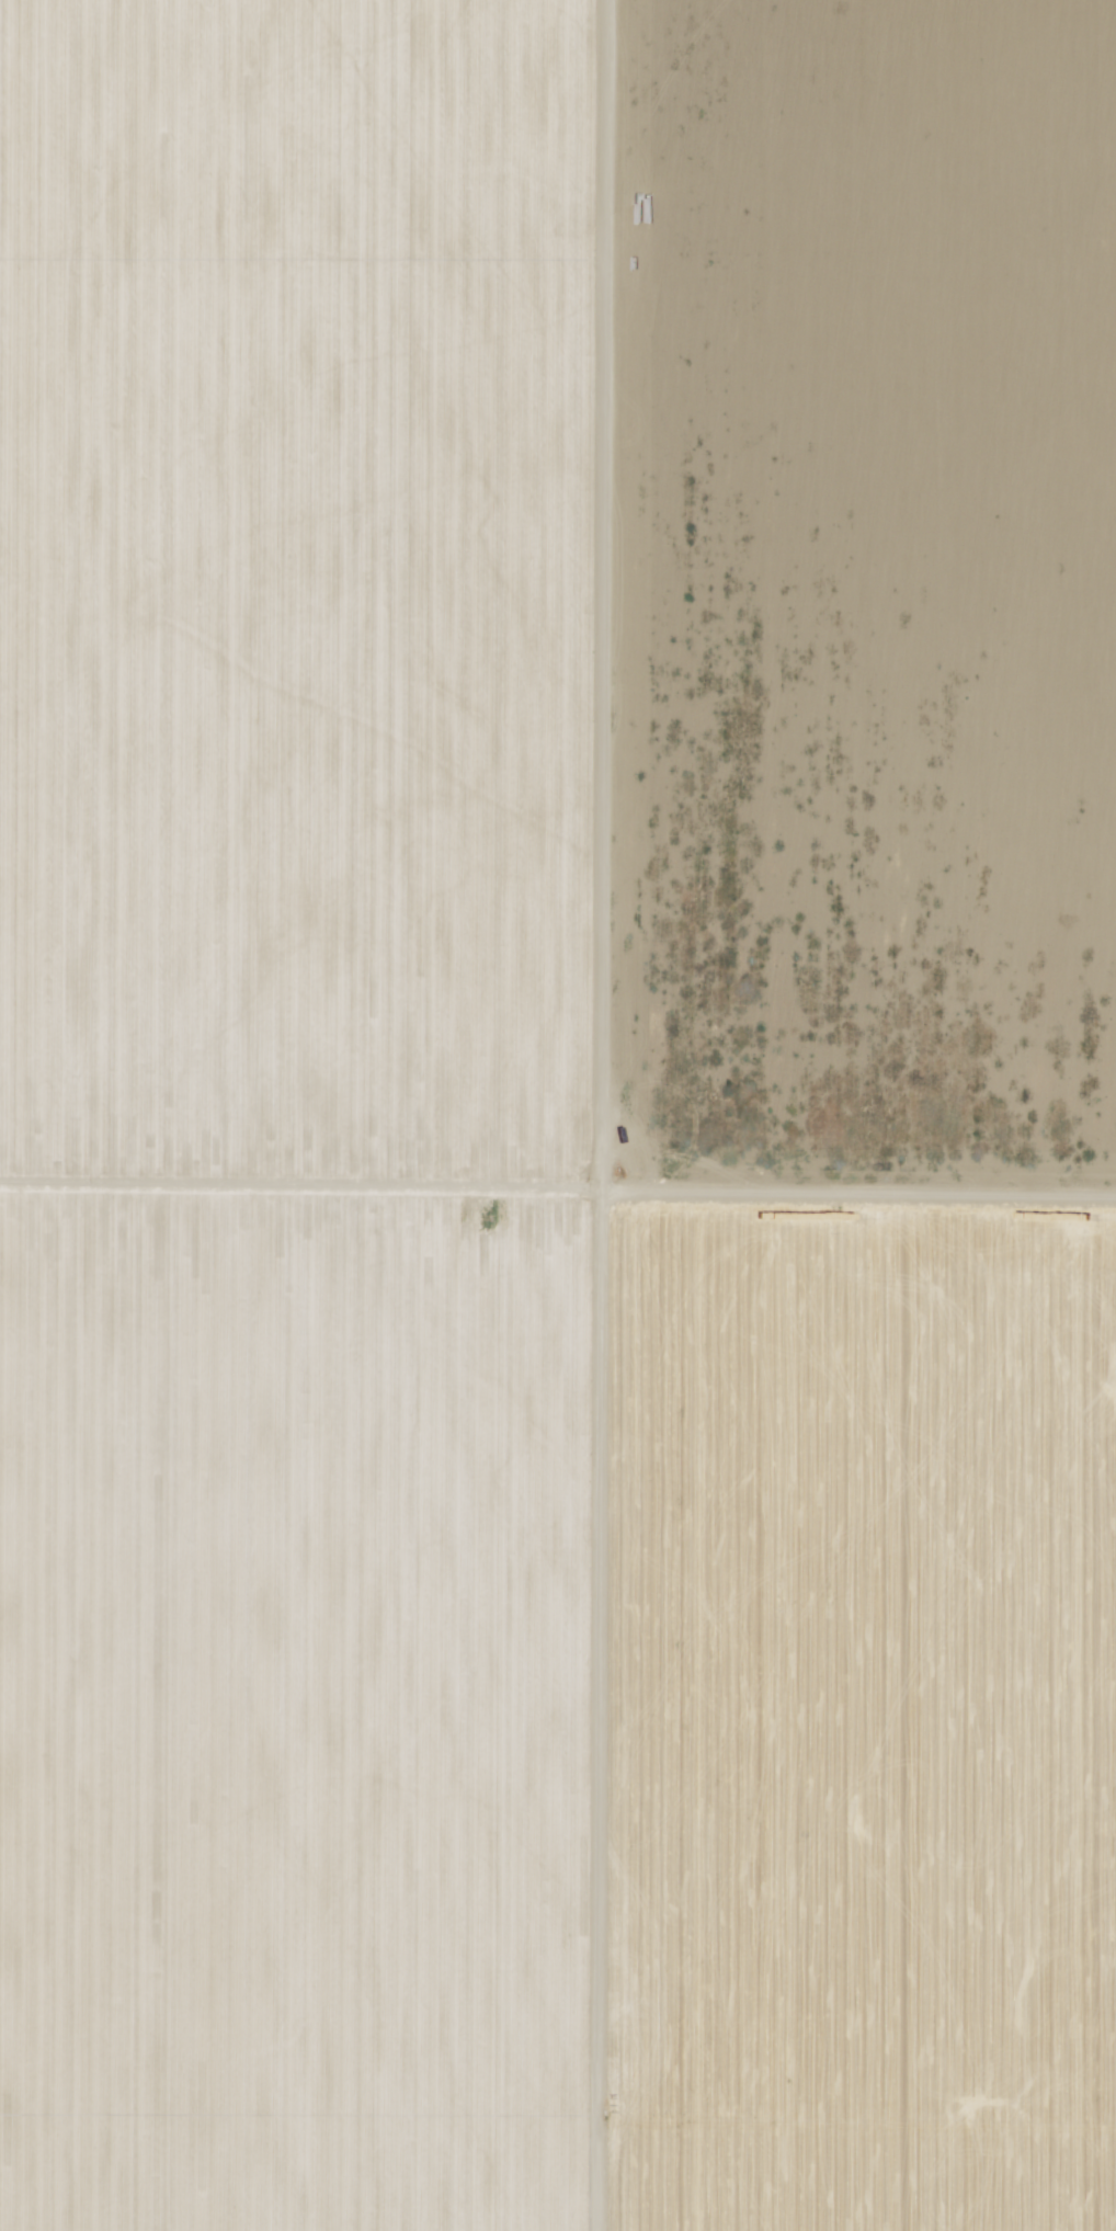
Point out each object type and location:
road: (615, 593)
road: (558, 1185)
road: (605, 1708)
crop: (834, 1721)

